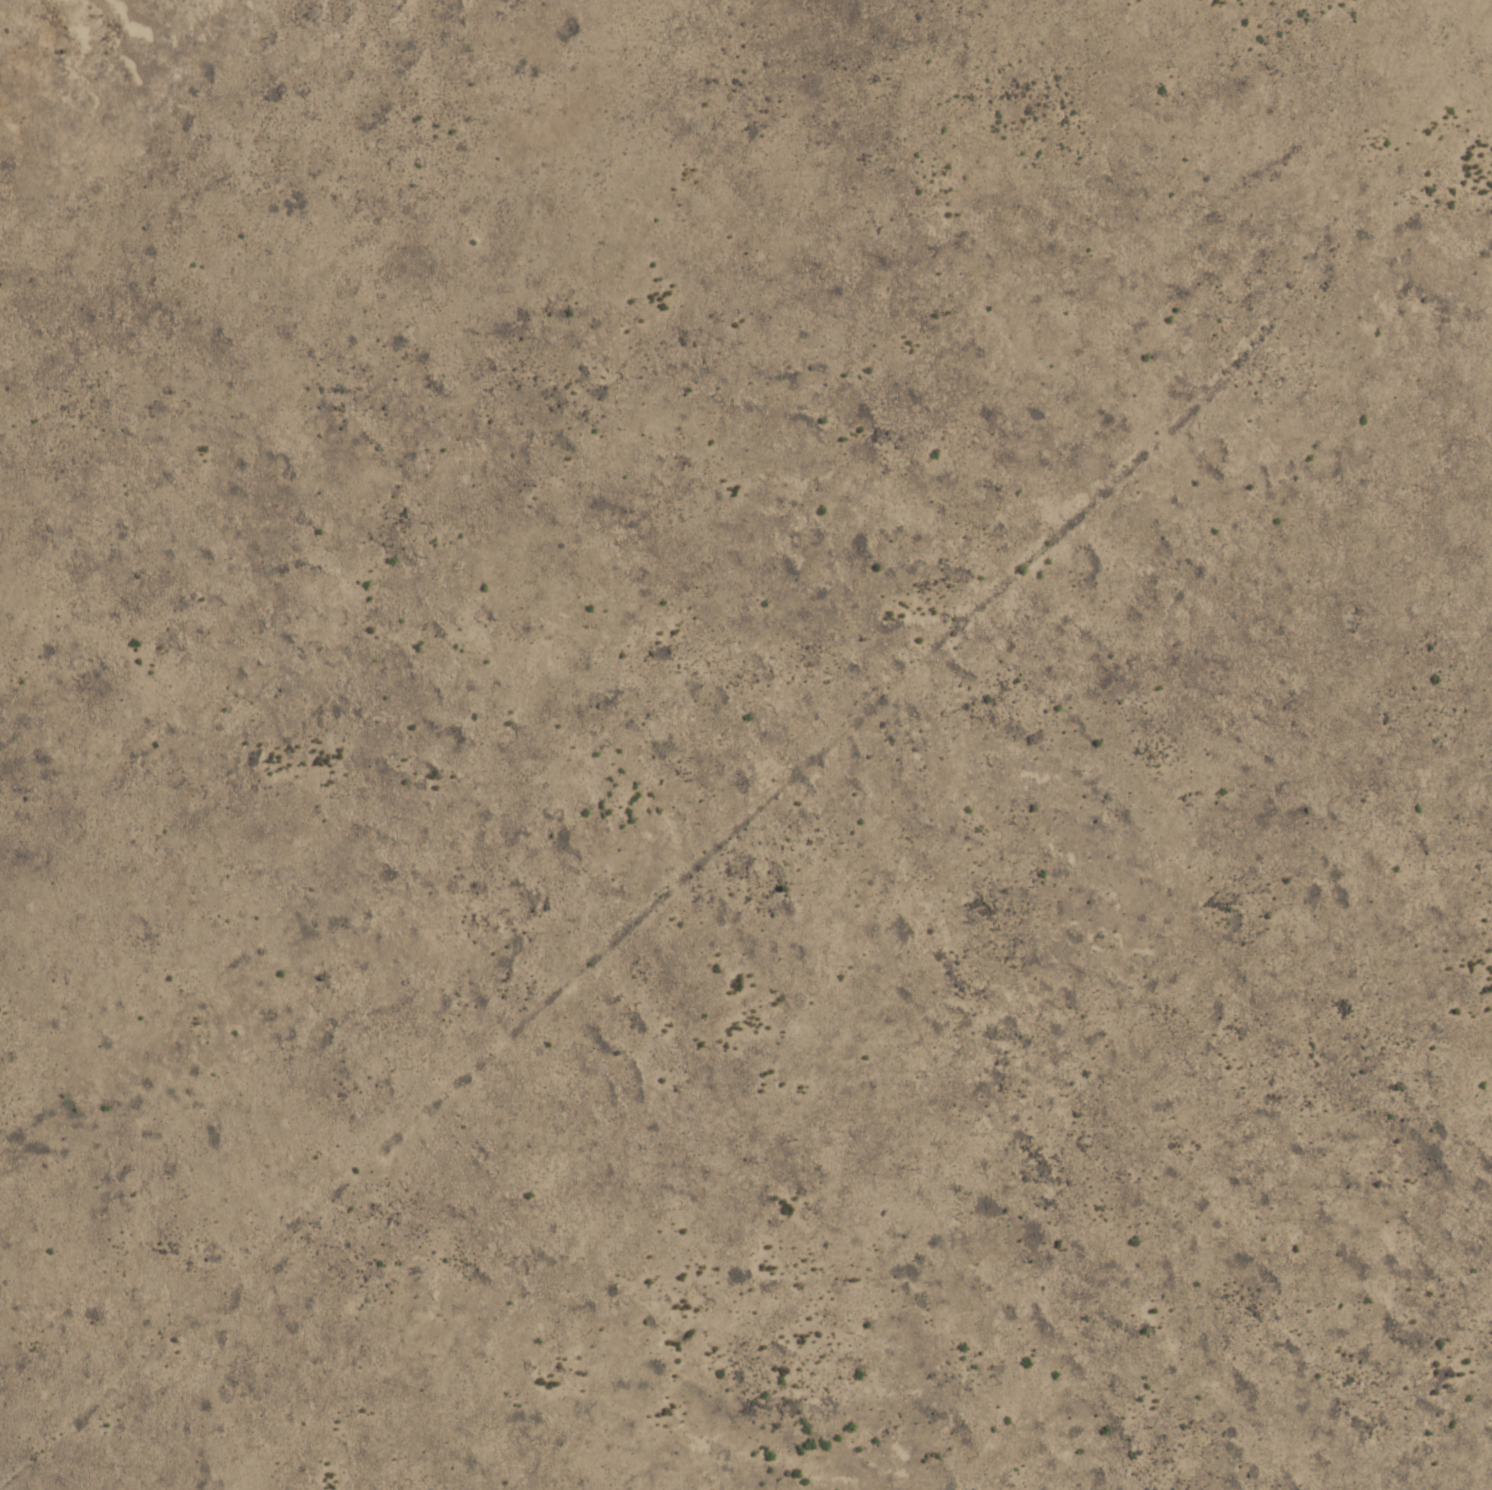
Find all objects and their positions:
road: (787, 778)

